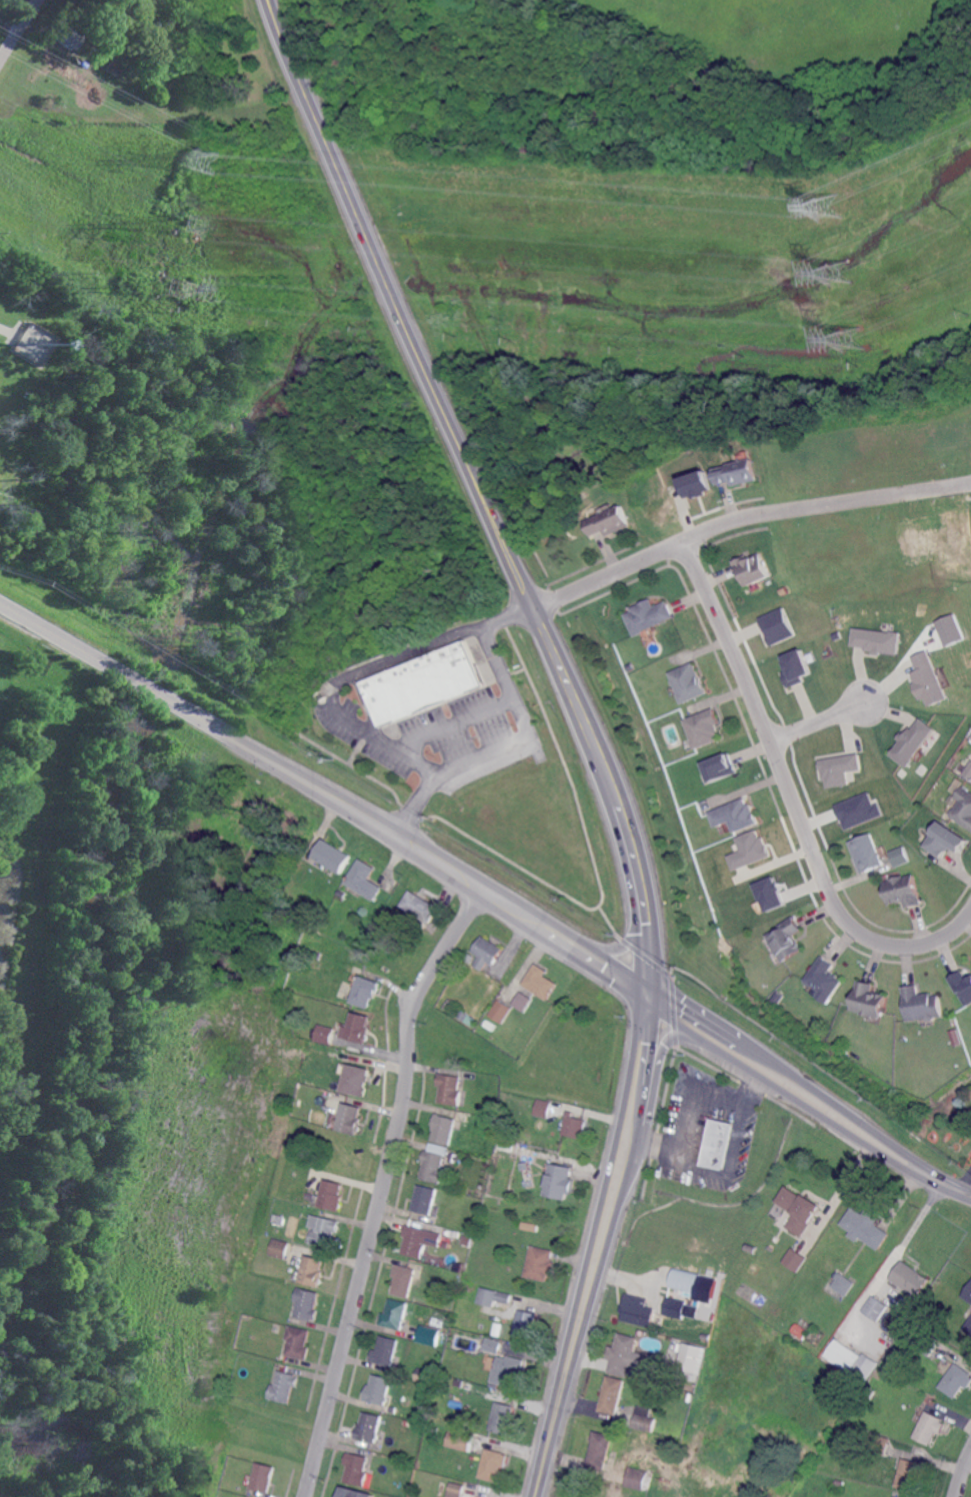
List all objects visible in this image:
building: (157, 0)
building: (153, 1)
road: (18, 30)
building: (67, 36)
building: (114, 66)
power tower: (205, 160)
power tower: (829, 206)
power tower: (188, 223)
power tower: (839, 272)
power tower: (170, 287)
power tower: (851, 340)
building: (40, 391)
building: (28, 397)
building: (738, 473)
building: (696, 483)
road: (479, 492)
road: (743, 515)
building: (609, 523)
building: (752, 569)
building: (647, 617)
building: (775, 625)
building: (948, 628)
building: (875, 639)
river: (166, 663)
building: (793, 667)
building: (927, 677)
road: (340, 681)
building: (424, 684)
building: (687, 684)
river: (154, 691)
road: (821, 719)
road: (757, 722)
road: (209, 724)
building: (703, 729)
road: (522, 732)
building: (912, 740)
building: (718, 766)
building: (838, 767)
building: (968, 771)
building: (964, 808)
building: (856, 809)
building: (735, 816)
building: (890, 839)
building: (947, 840)
building: (749, 849)
building: (867, 853)
building: (898, 854)
building: (332, 857)
building: (365, 880)
building: (341, 892)
building: (768, 892)
building: (905, 892)
building: (420, 905)
road: (535, 921)
building: (787, 940)
road: (902, 942)
building: (401, 946)
building: (487, 952)
building: (467, 968)
building: (826, 980)
building: (541, 983)
building: (963, 986)
building: (366, 992)
traffic signals: (652, 995)
building: (777, 997)
building: (292, 998)
building: (521, 1000)
building: (869, 1000)
building: (923, 1005)
building: (502, 1011)
river: (95, 1016)
building: (467, 1018)
building: (357, 1029)
building: (323, 1035)
building: (354, 1078)
road: (799, 1078)
building: (450, 1090)
road: (789, 1095)
building: (544, 1108)
road: (738, 1108)
building: (349, 1119)
building: (574, 1126)
building: (444, 1127)
building: (719, 1144)
road: (682, 1149)
building: (433, 1164)
road: (964, 1178)
building: (560, 1181)
road: (383, 1185)
road: (954, 1187)
building: (332, 1195)
building: (425, 1198)
building: (283, 1209)
building: (799, 1210)
building: (531, 1226)
building: (866, 1227)
building: (325, 1233)
building: (419, 1240)
building: (465, 1240)
building: (279, 1246)
building: (749, 1246)
road: (599, 1247)
building: (796, 1258)
building: (541, 1263)
building: (313, 1269)
building: (912, 1278)
building: (403, 1279)
building: (686, 1281)
building: (845, 1284)
building: (968, 1293)
building: (503, 1299)
building: (306, 1304)
building: (675, 1307)
building: (877, 1308)
building: (637, 1310)
building: (395, 1313)
building: (434, 1322)
building: (526, 1324)
building: (969, 1327)
building: (909, 1329)
building: (801, 1331)
building: (429, 1335)
building: (707, 1336)
building: (925, 1341)
building: (297, 1342)
building: (493, 1345)
building: (385, 1349)
building: (623, 1355)
building: (846, 1356)
building: (690, 1361)
building: (509, 1372)
building: (422, 1374)
building: (957, 1380)
building: (282, 1387)
building: (379, 1388)
building: (870, 1390)
building: (613, 1394)
building: (691, 1396)
building: (503, 1417)
building: (645, 1419)
building: (369, 1425)
building: (930, 1427)
building: (435, 1429)
building: (461, 1441)
building: (663, 1442)
building: (880, 1443)
building: (601, 1450)
building: (494, 1464)
building: (357, 1469)
road: (962, 1473)
building: (911, 1474)
building: (264, 1476)
building: (640, 1478)
building: (744, 1481)
building: (841, 1483)
building: (443, 1486)
building: (457, 1489)
building: (356, 1493)
building: (414, 1496)
building: (895, 1496)

